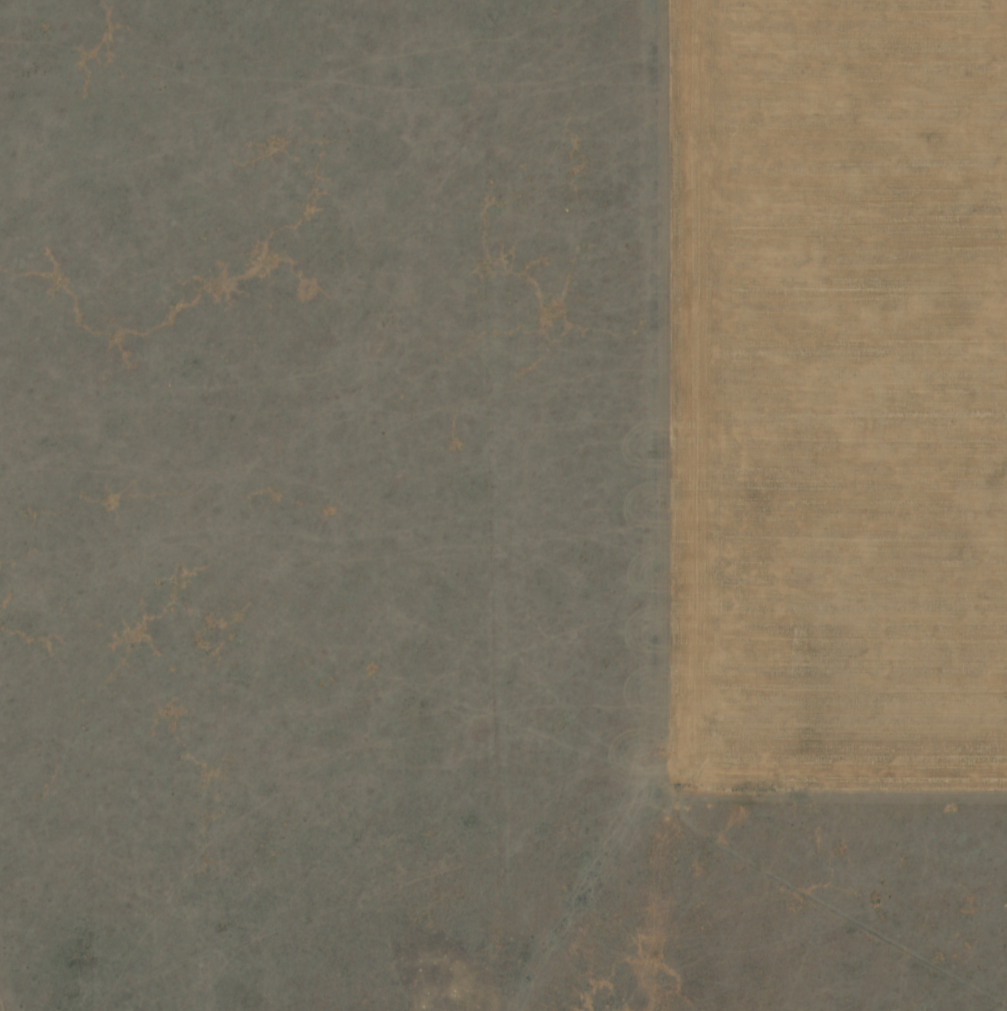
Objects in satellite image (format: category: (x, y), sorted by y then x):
road: (750, 849)

